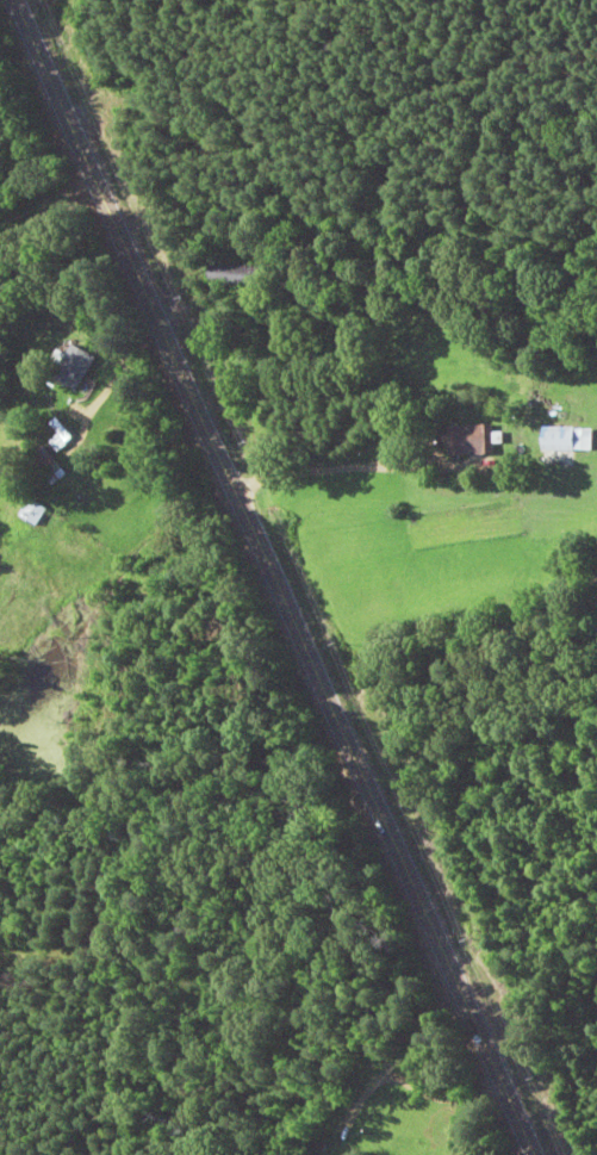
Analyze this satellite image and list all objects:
building: (234, 274)
building: (73, 366)
building: (61, 440)
building: (469, 441)
building: (565, 445)
building: (49, 466)
building: (32, 513)
road: (367, 529)
road: (267, 579)

